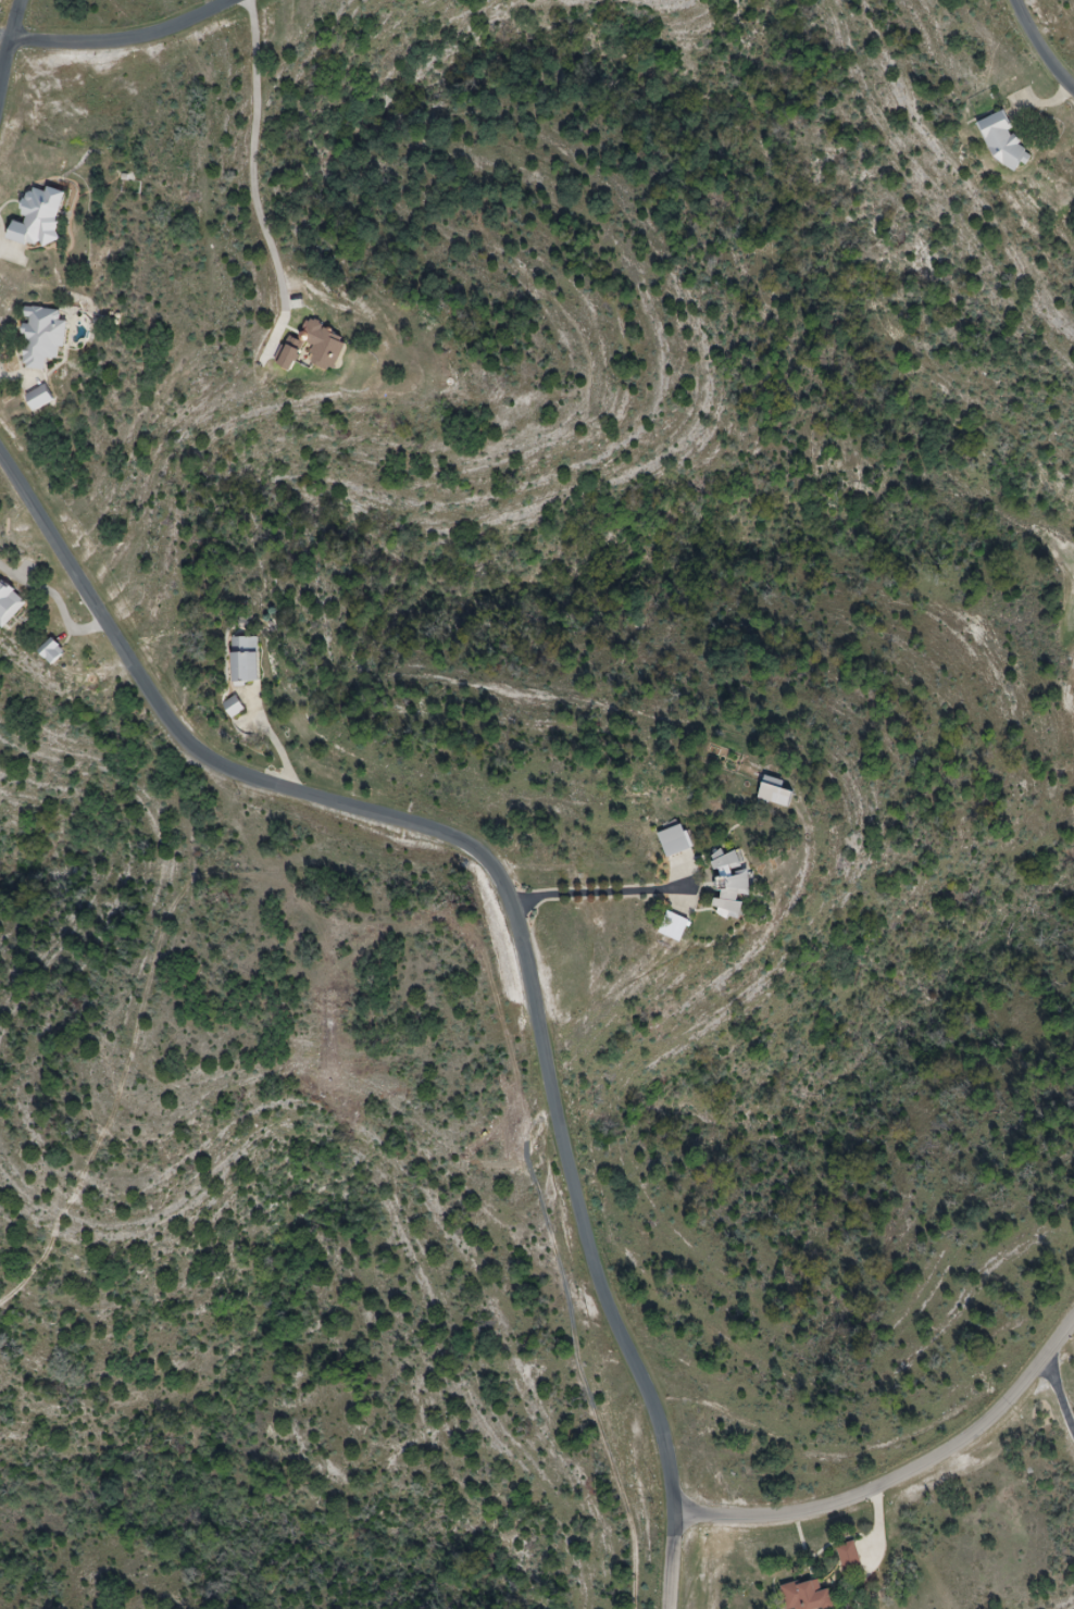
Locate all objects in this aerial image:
road: (117, 33)
road: (7, 40)
road: (1039, 48)
building: (1004, 142)
road: (252, 173)
building: (40, 217)
road: (1, 237)
building: (42, 338)
building: (313, 349)
building: (39, 400)
road: (58, 600)
building: (9, 603)
building: (52, 650)
building: (245, 659)
building: (233, 707)
road: (272, 740)
building: (775, 791)
building: (674, 840)
building: (730, 882)
road: (600, 891)
road: (512, 908)
building: (674, 926)
road: (1059, 1396)
road: (901, 1475)
building: (850, 1558)
building: (808, 1596)

